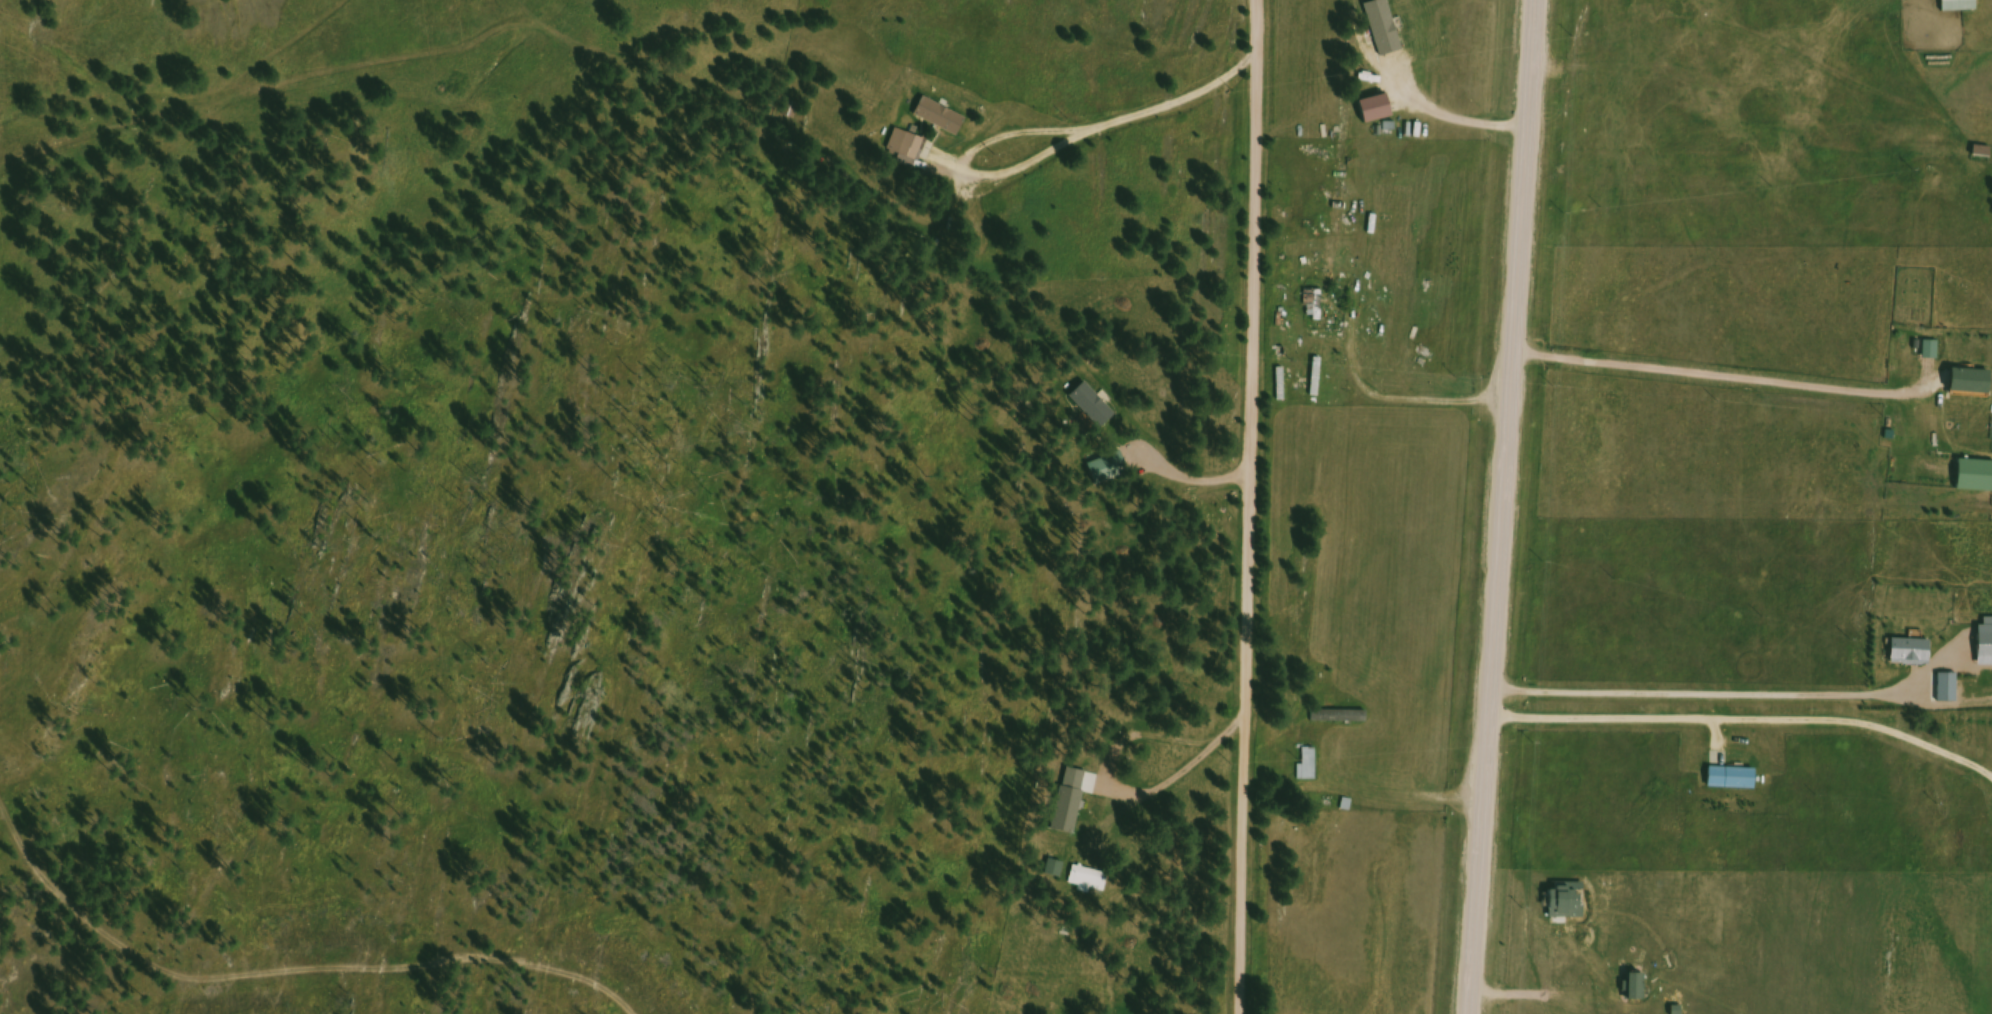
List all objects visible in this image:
building: (1963, 7)
building: (1391, 39)
building: (1382, 113)
building: (943, 119)
building: (907, 146)
building: (1984, 155)
building: (1316, 307)
building: (1933, 351)
building: (1974, 383)
building: (1283, 386)
building: (1095, 407)
building: (1109, 469)
building: (1977, 478)
road: (1254, 506)
road: (1500, 507)
building: (1987, 648)
building: (1913, 652)
building: (1948, 690)
building: (1341, 718)
building: (1311, 764)
building: (1735, 781)
building: (1075, 797)
building: (1088, 883)

